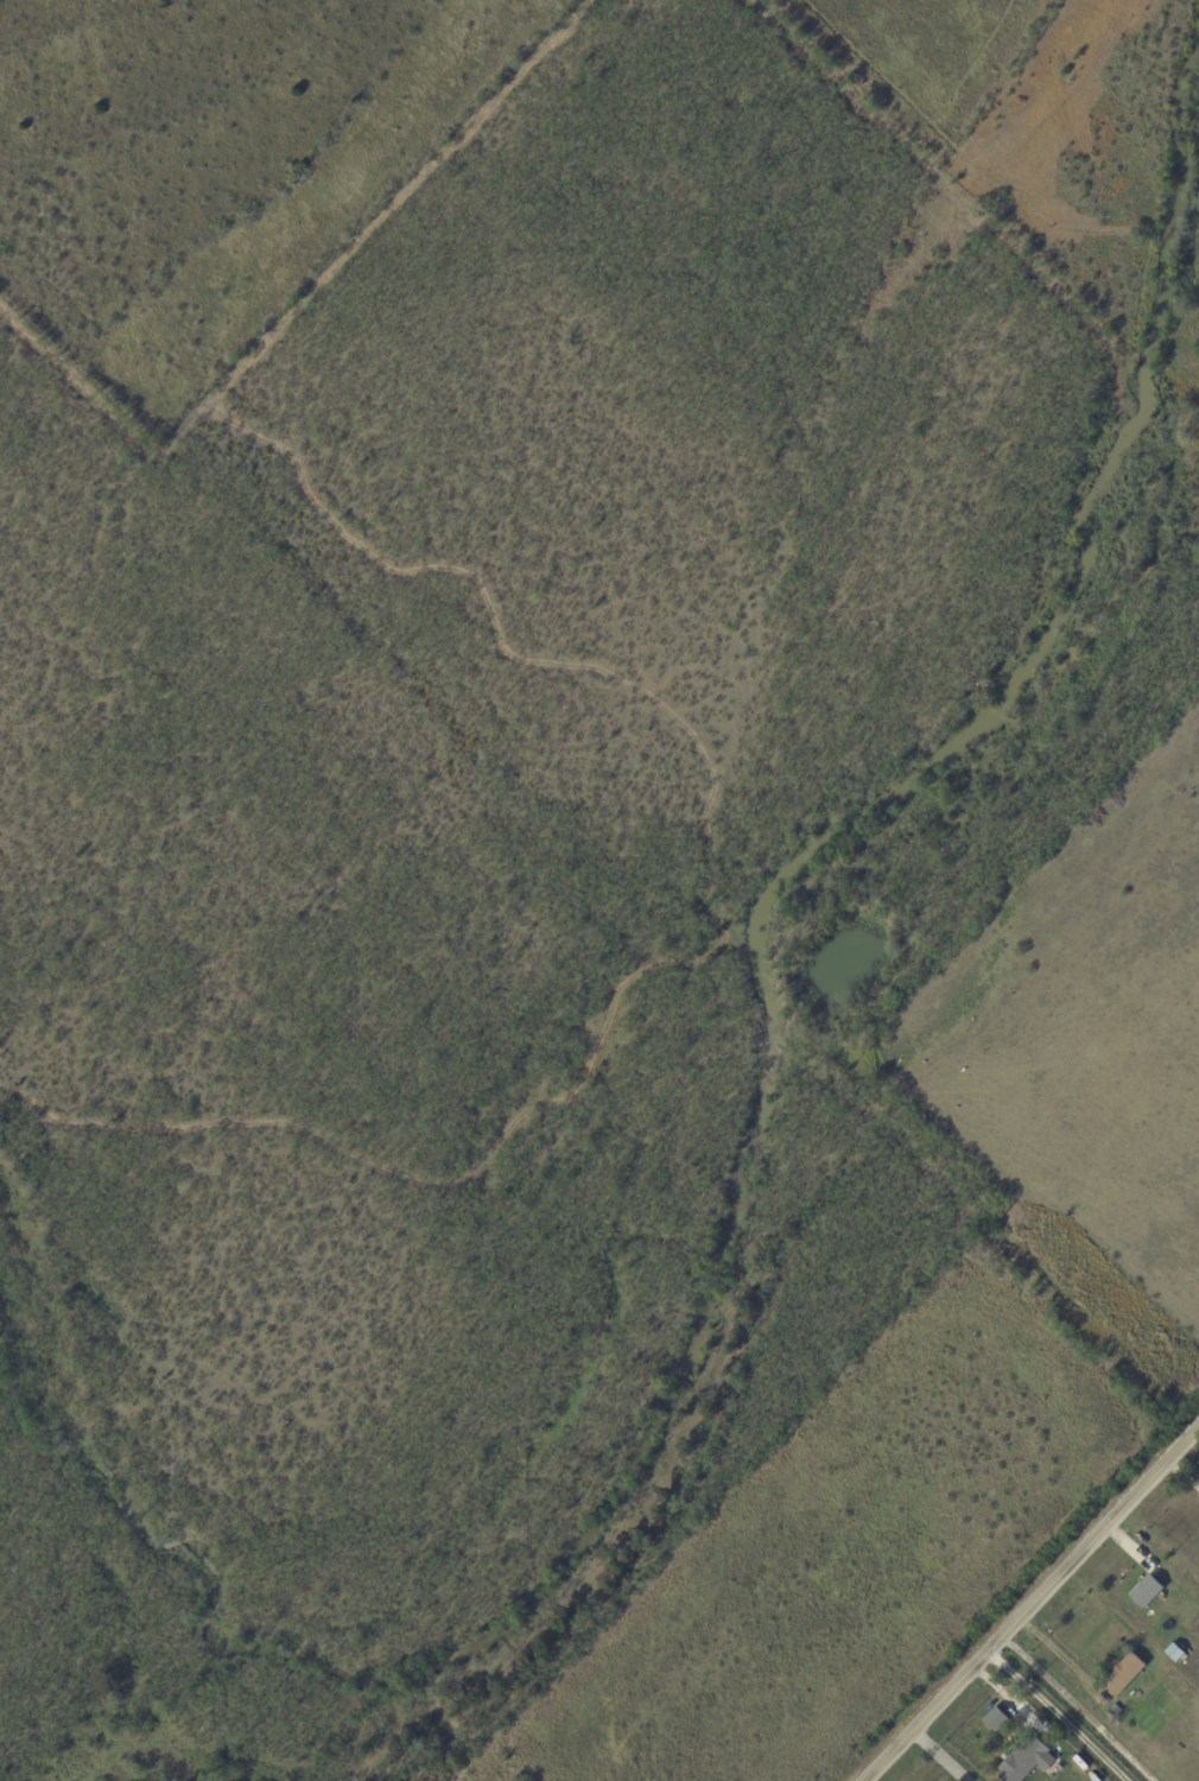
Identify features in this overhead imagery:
road: (1181, 1472)
building: (1148, 1591)
road: (1029, 1599)
building: (1125, 1674)
road: (1073, 1707)
road: (1053, 1715)
building: (1112, 1716)
building: (998, 1719)
building: (1027, 1762)

